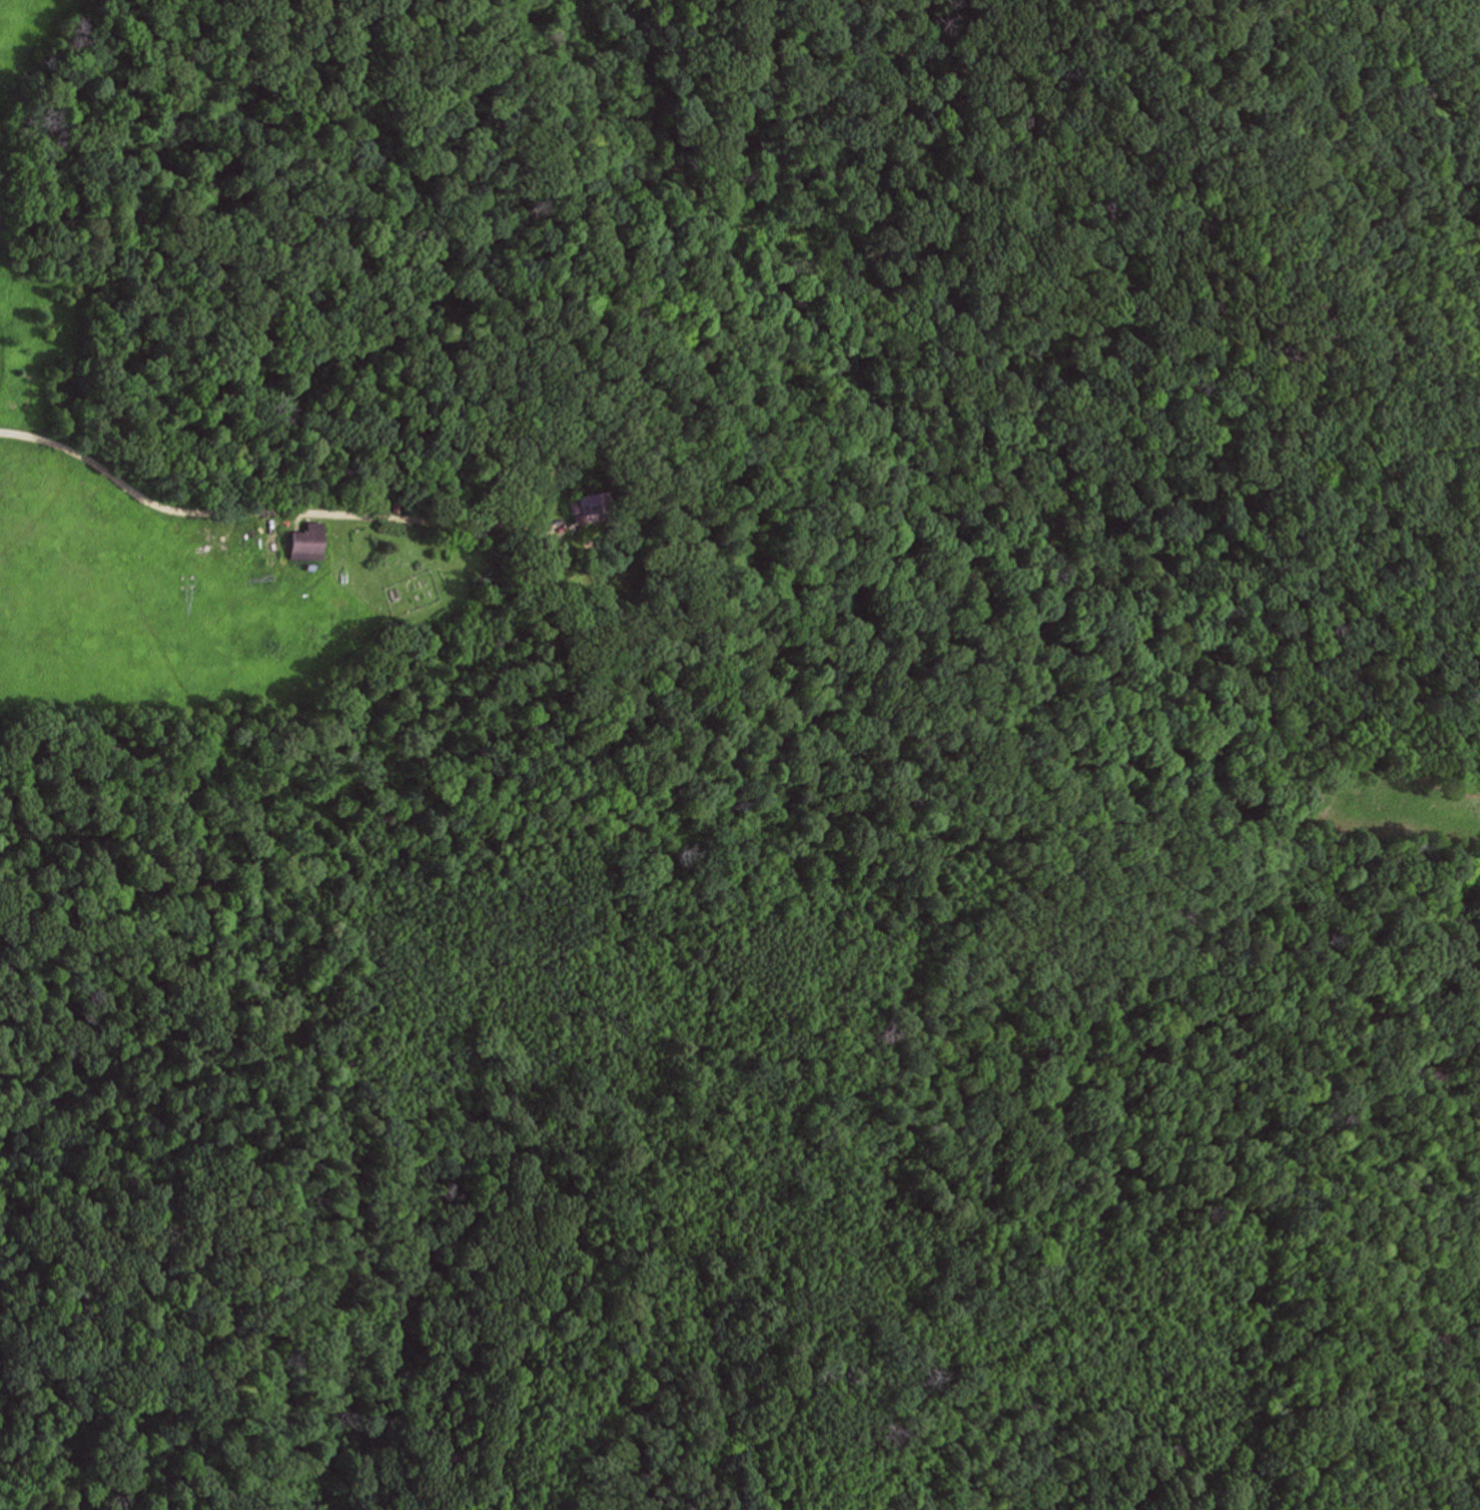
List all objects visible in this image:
building: (303, 543)

